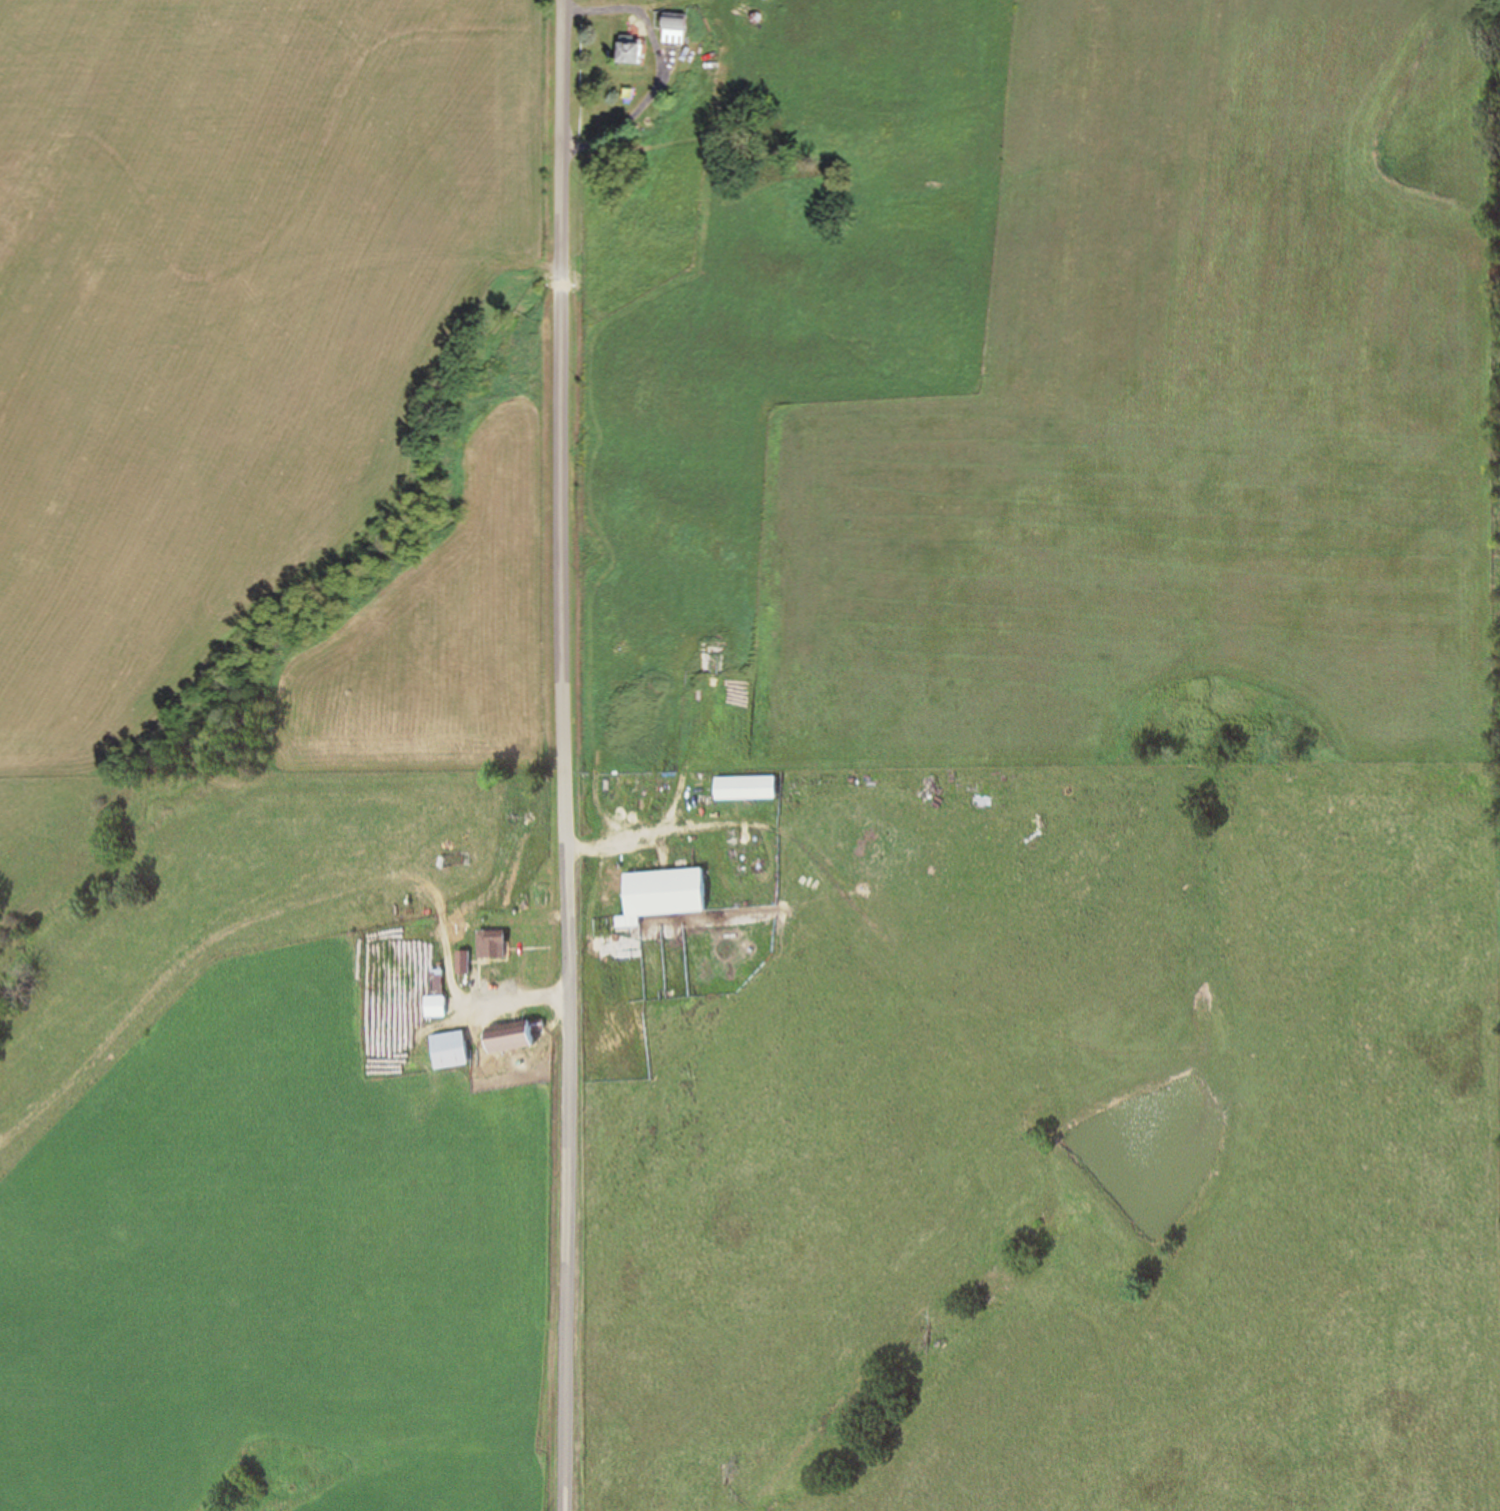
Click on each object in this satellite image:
building: (673, 31)
building: (629, 56)
road: (563, 755)
building: (744, 789)
building: (982, 805)
road: (641, 836)
building: (661, 896)
building: (490, 945)
building: (461, 964)
building: (434, 996)
building: (509, 1038)
building: (448, 1051)

